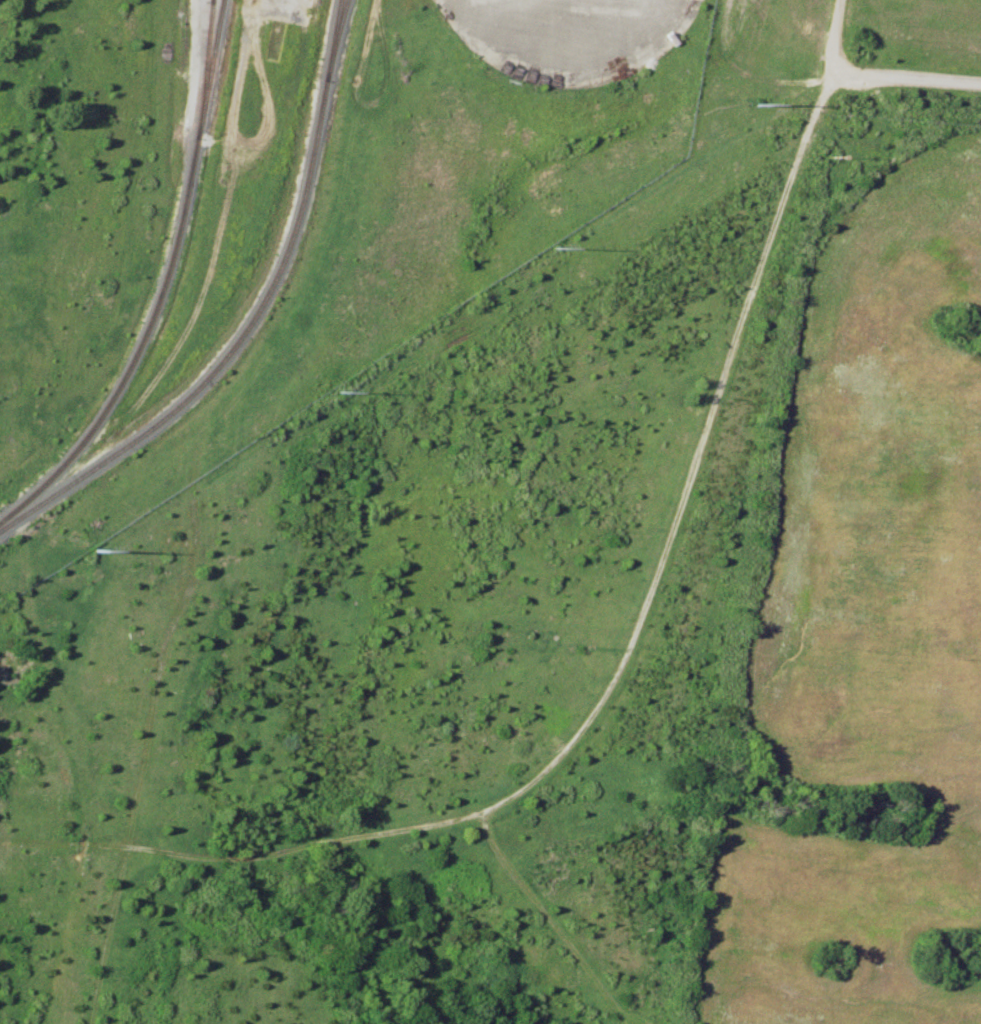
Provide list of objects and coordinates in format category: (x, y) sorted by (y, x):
railway: (333, 38)
road: (836, 41)
railway: (202, 68)
railway: (251, 315)
railway: (135, 345)
road: (635, 628)
railway: (221, 778)

